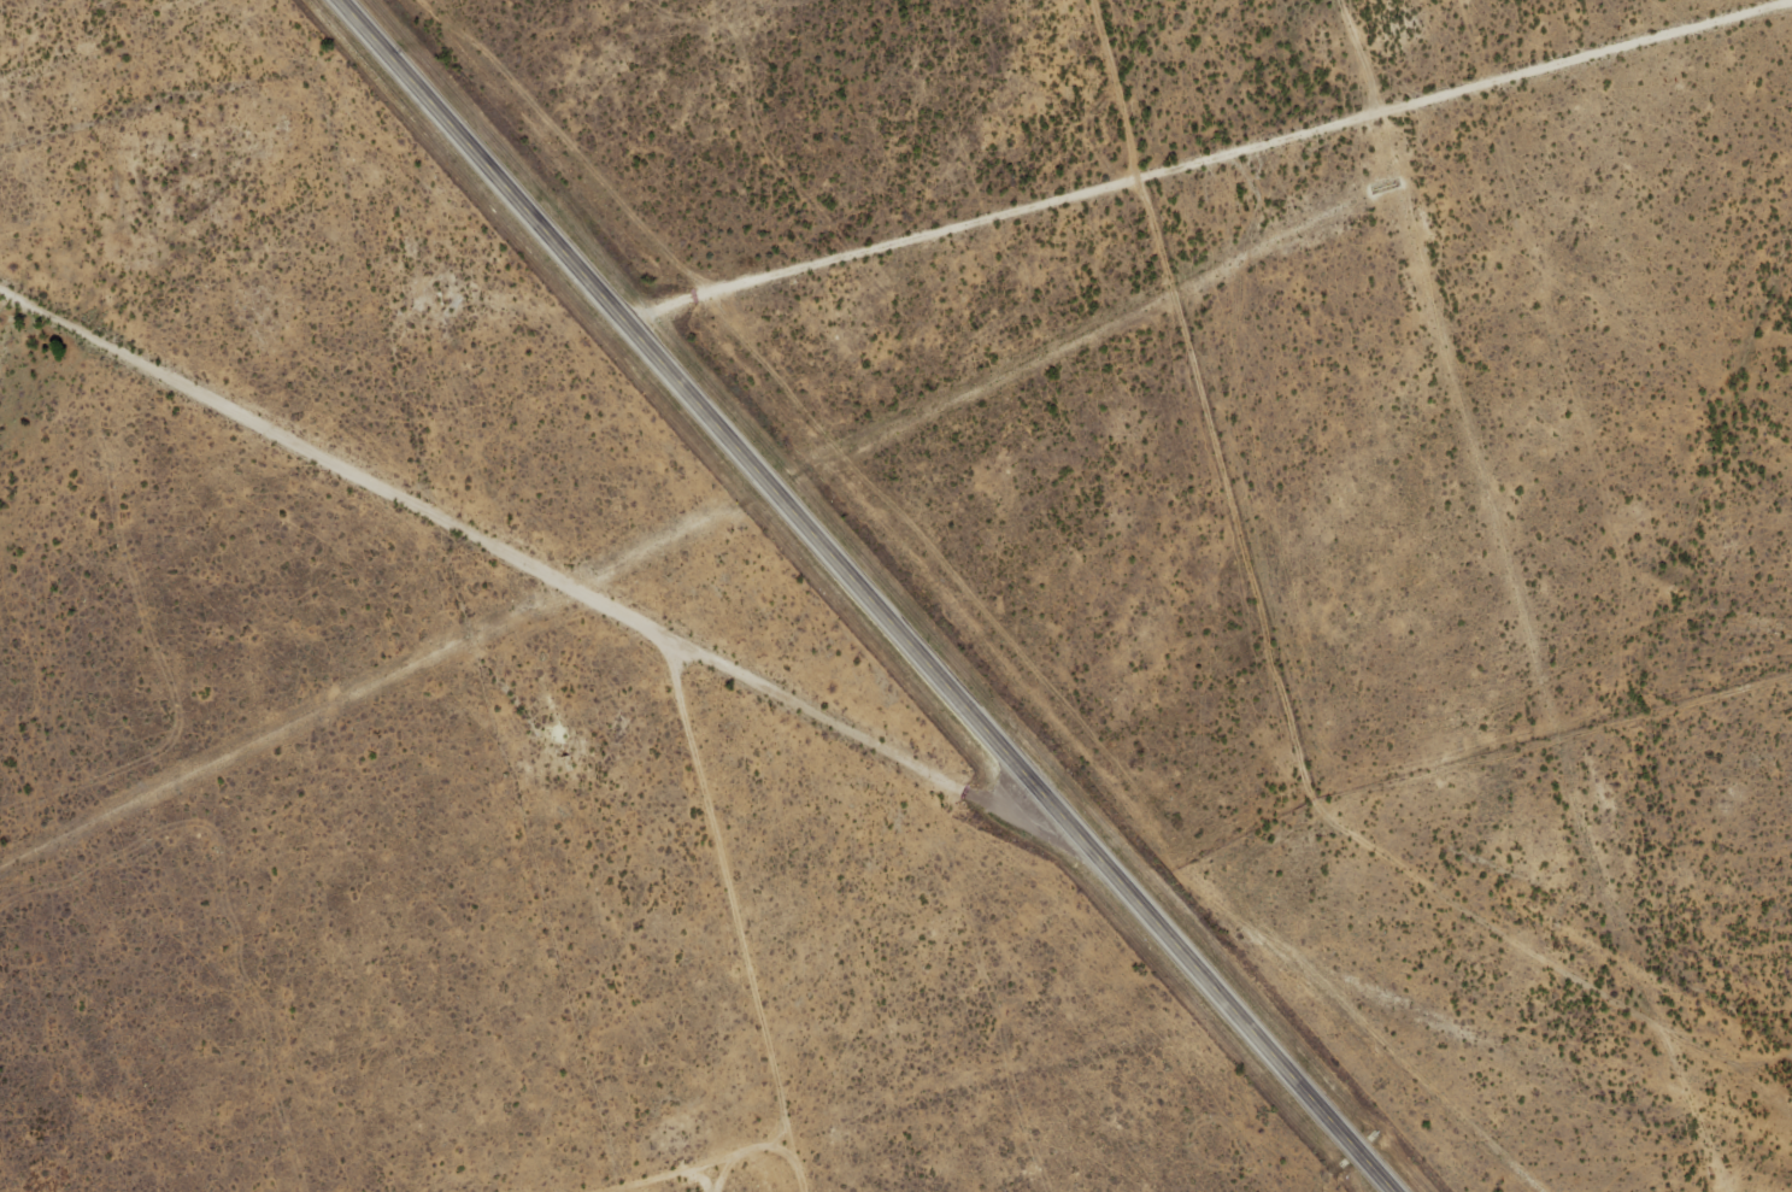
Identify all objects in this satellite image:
road: (529, 535)
road: (868, 594)

